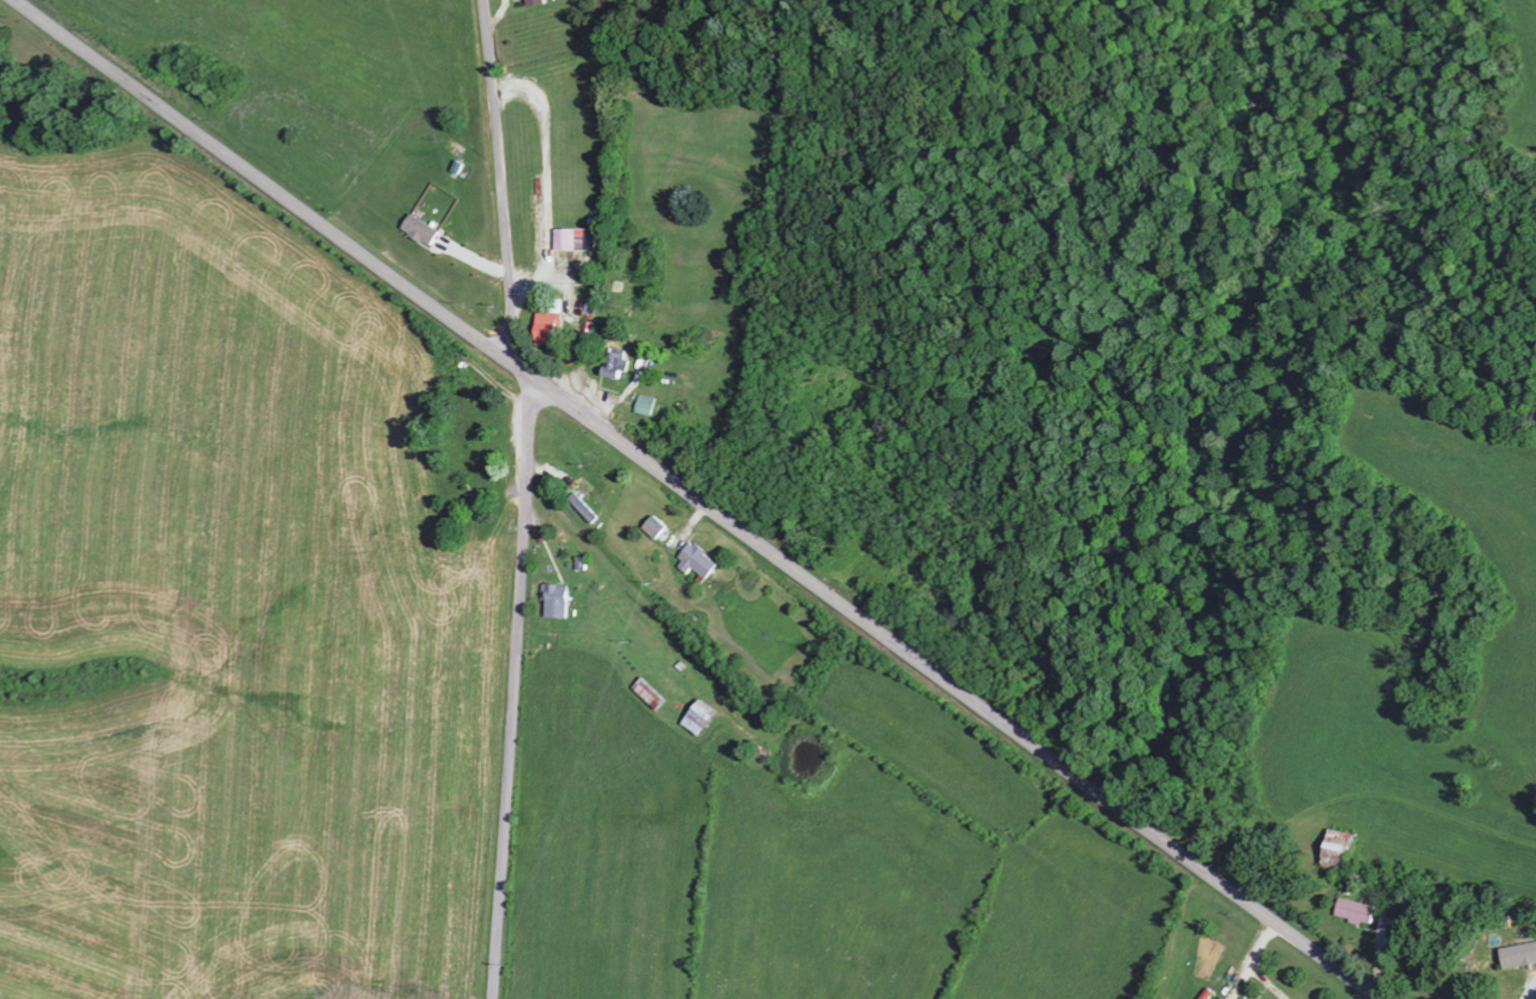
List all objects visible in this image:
building: (540, 3)
road: (499, 183)
building: (424, 230)
building: (578, 239)
building: (553, 329)
building: (620, 366)
building: (648, 405)
road: (697, 498)
building: (659, 526)
building: (700, 561)
building: (559, 602)
road: (511, 682)
building: (654, 694)
building: (704, 718)
building: (1346, 850)
building: (1360, 911)
building: (1522, 956)
road: (1531, 993)

